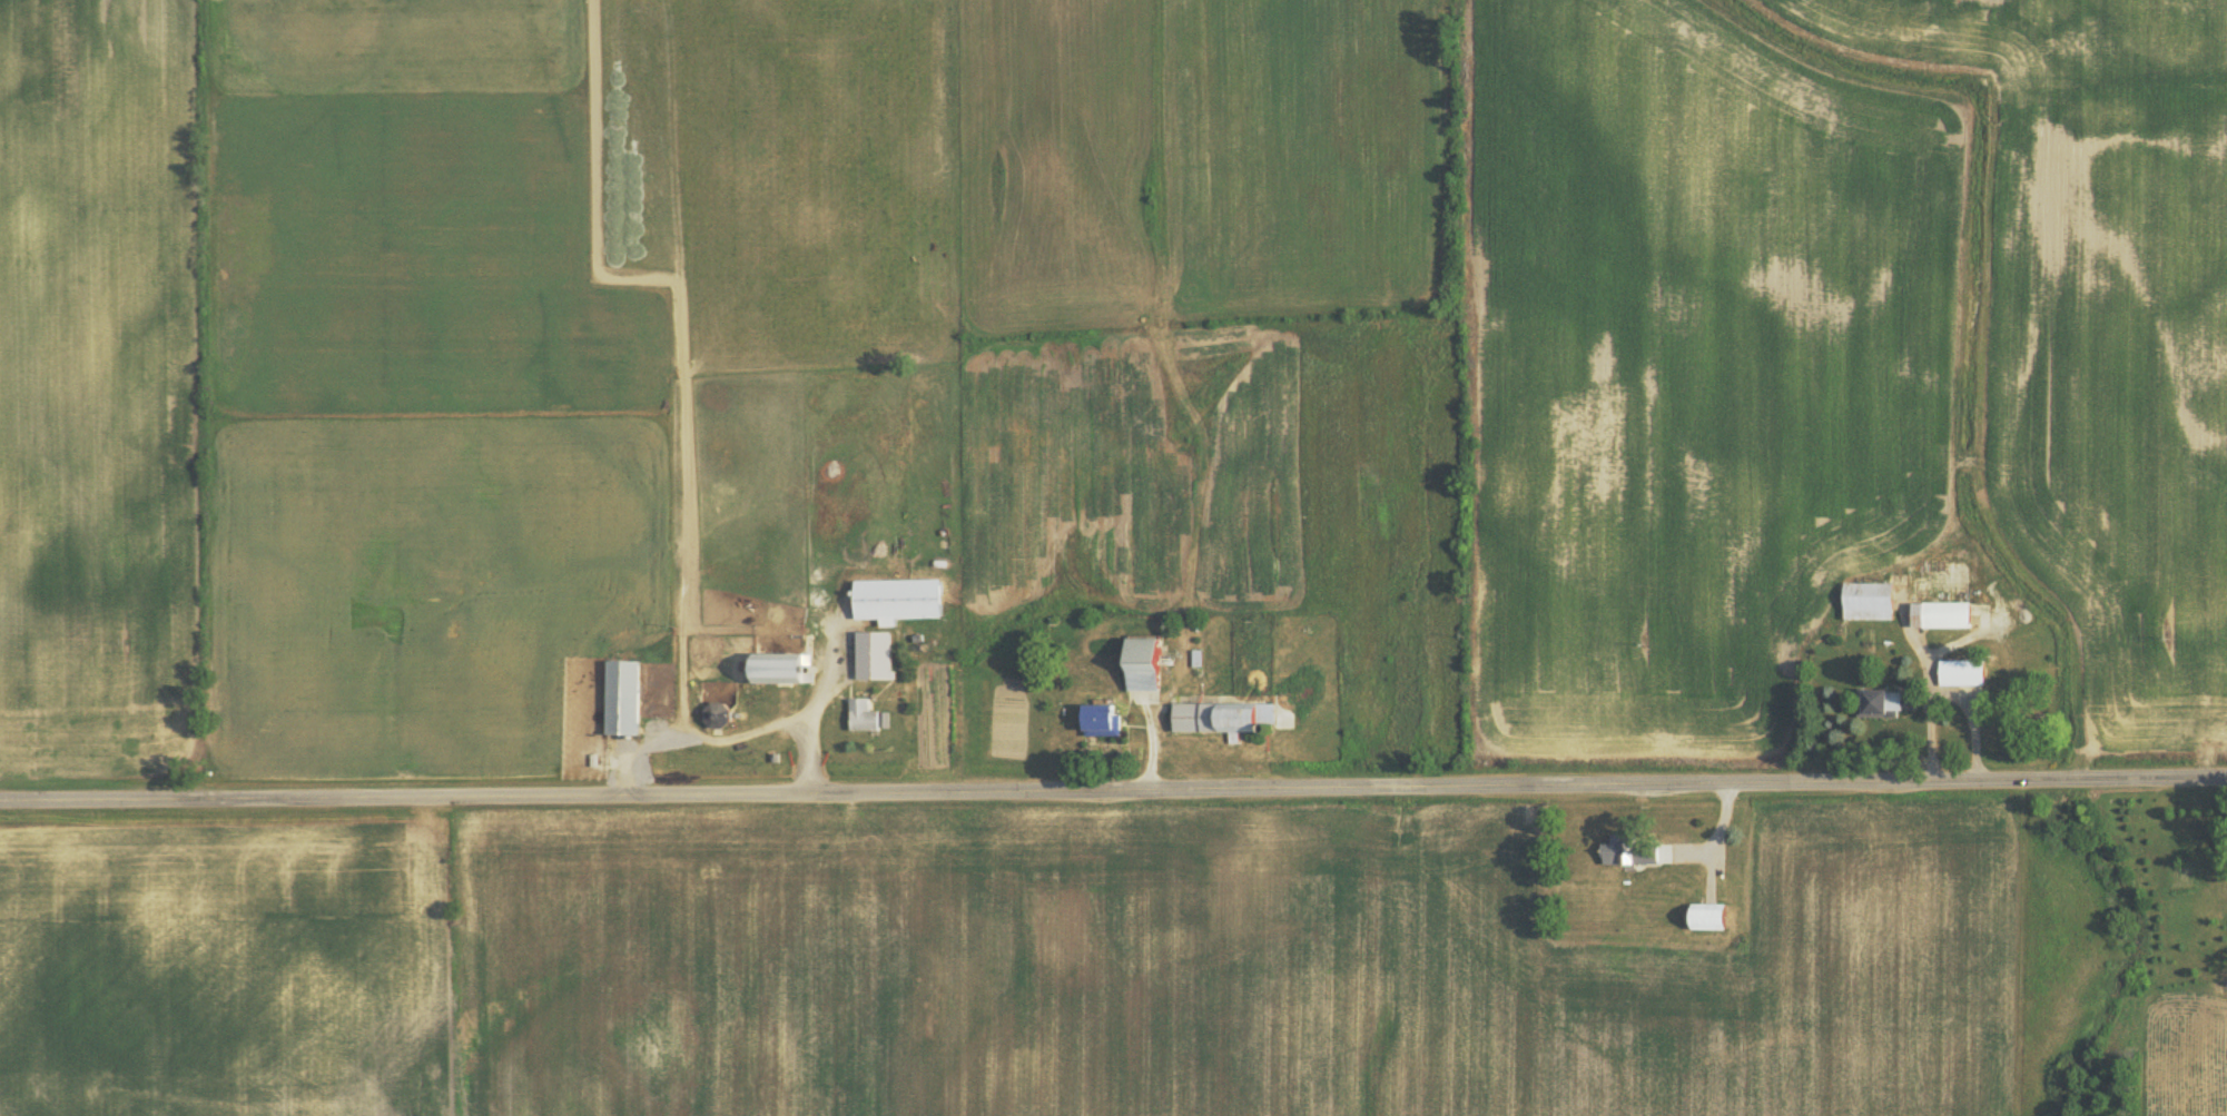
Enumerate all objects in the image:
building: (896, 597)
building: (1868, 599)
building: (1940, 613)
building: (873, 653)
building: (1141, 662)
building: (776, 666)
building: (1961, 671)
building: (622, 695)
building: (1885, 701)
building: (717, 713)
building: (863, 713)
building: (1222, 717)
building: (884, 718)
building: (1100, 719)
road: (1113, 786)
building: (1624, 851)
building: (1707, 915)

